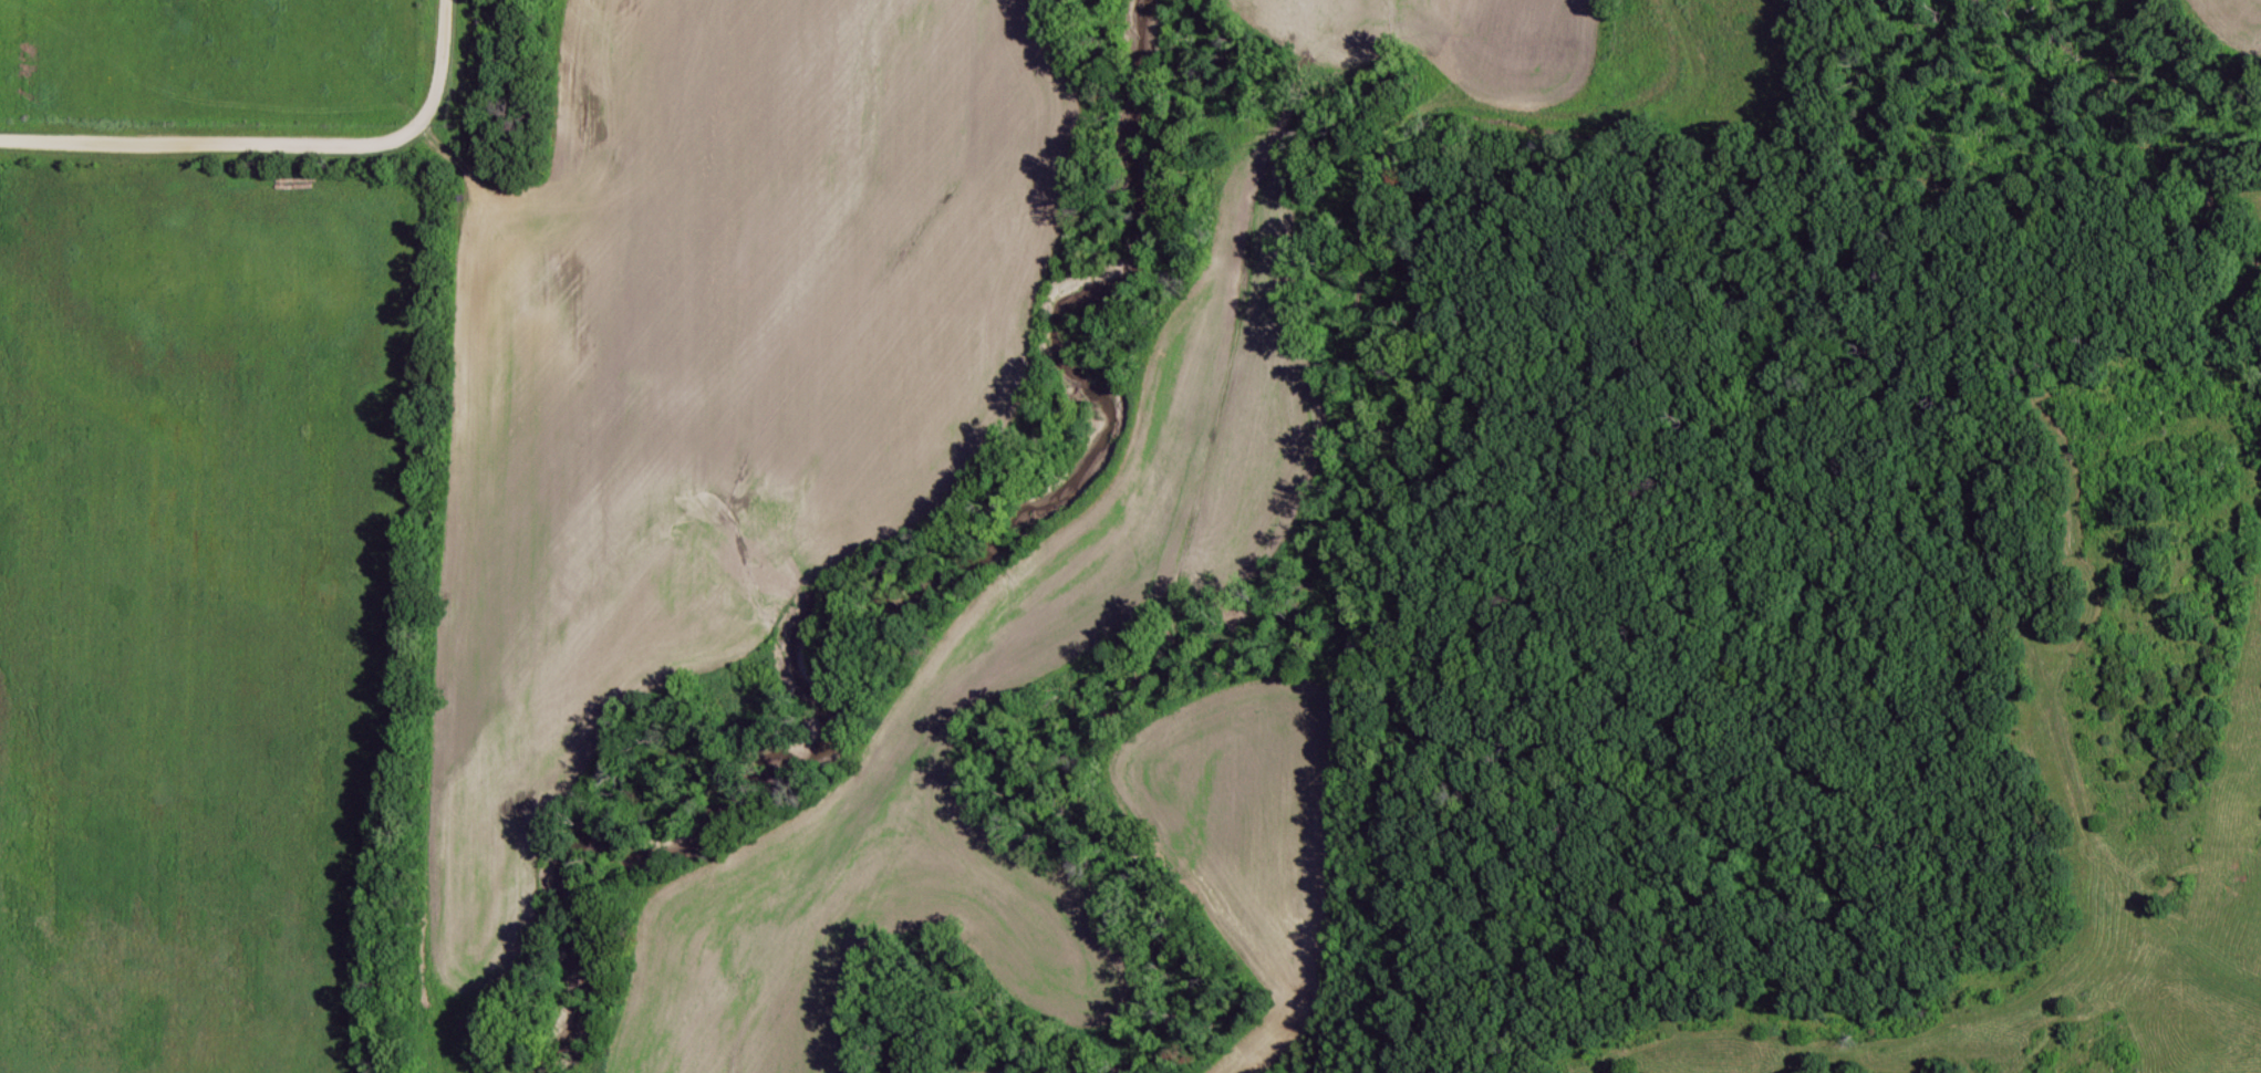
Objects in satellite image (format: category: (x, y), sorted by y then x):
road: (272, 139)

